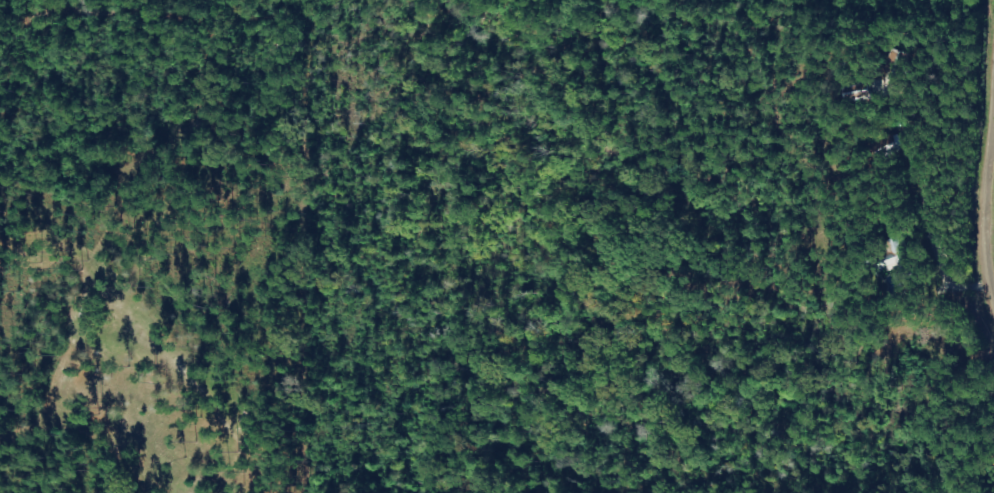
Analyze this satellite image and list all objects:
road: (946, 167)
road: (684, 257)

